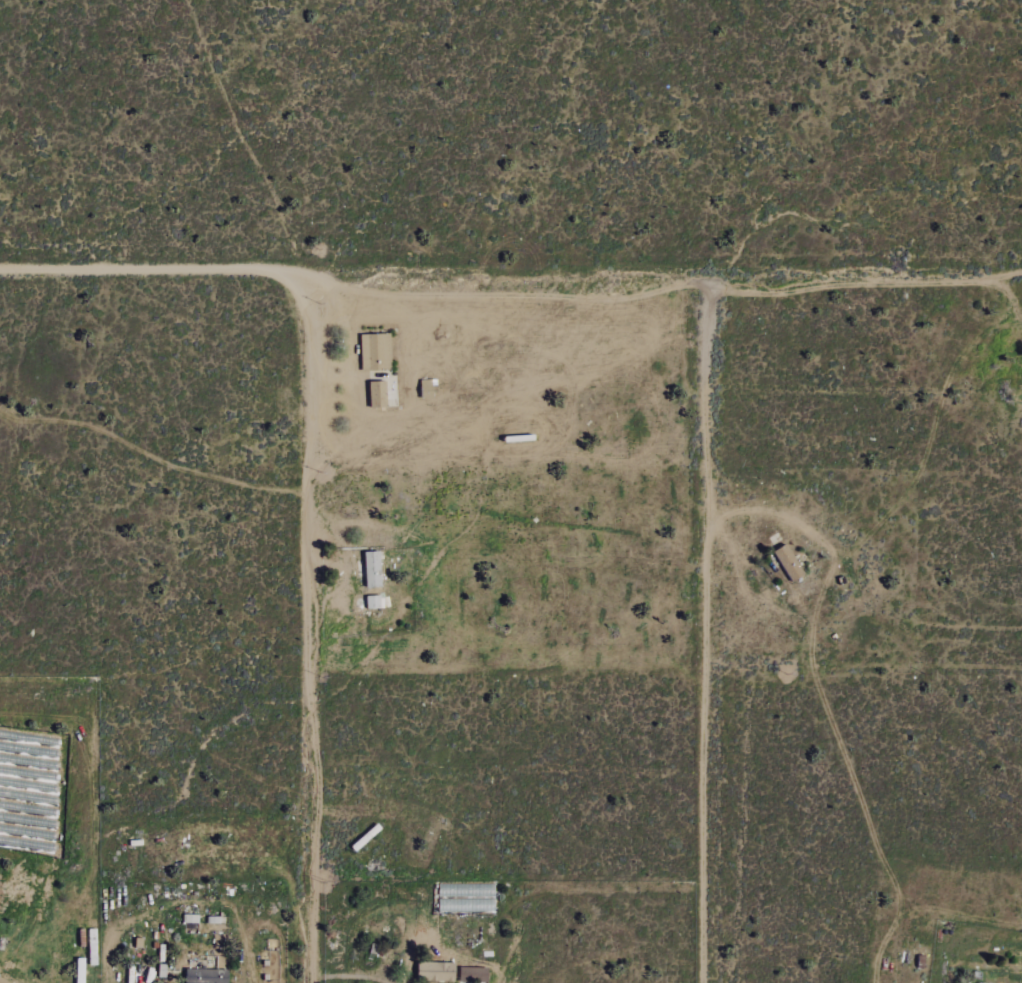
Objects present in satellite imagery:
road: (511, 272)
road: (1005, 293)
building: (1017, 368)
building: (379, 394)
building: (790, 562)
building: (373, 569)
road: (704, 625)
road: (306, 629)
road: (823, 705)
building: (191, 918)
road: (354, 975)
building: (207, 976)

